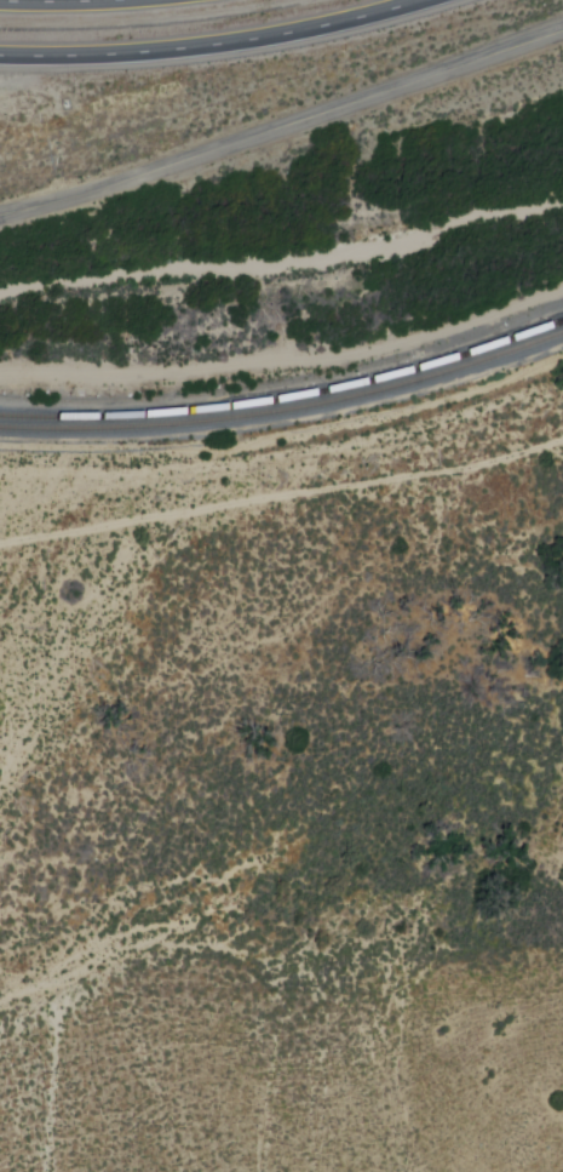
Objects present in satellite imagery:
road: (62, 1)
road: (214, 45)
road: (282, 126)
railway: (286, 399)
railway: (286, 410)

